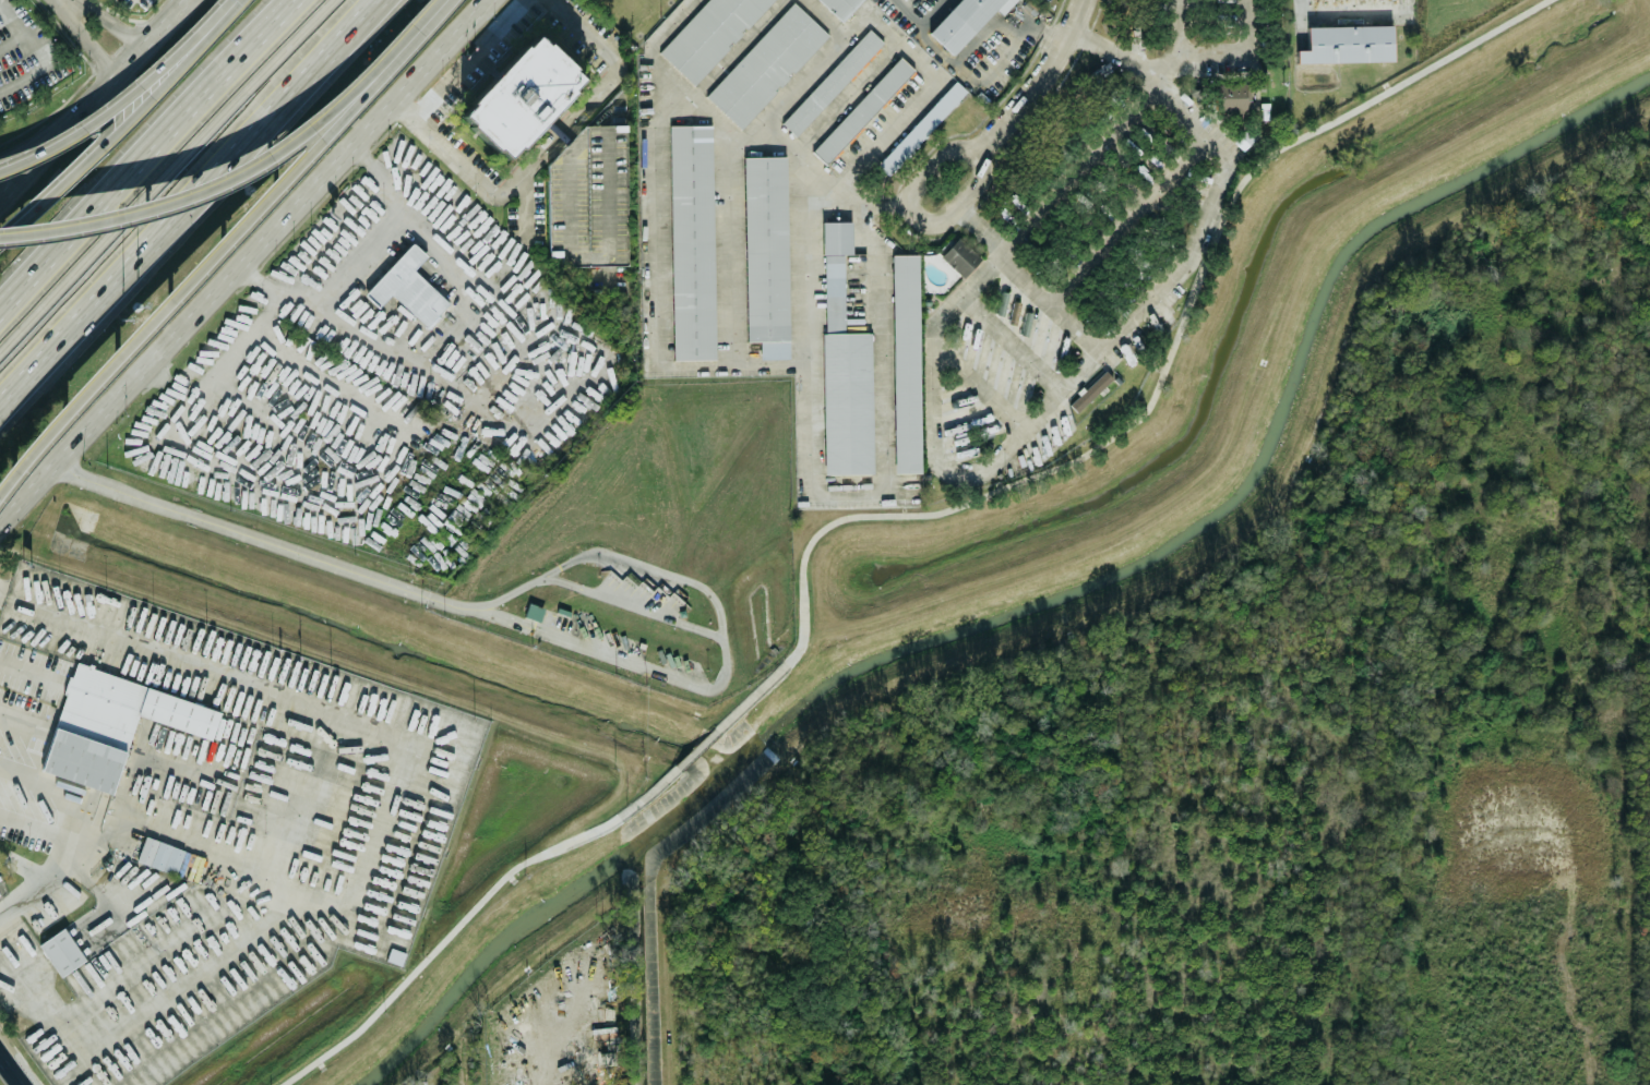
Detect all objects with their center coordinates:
building: (840, 7)
road: (909, 11)
road: (930, 11)
road: (12, 17)
road: (822, 19)
building: (964, 20)
road: (106, 23)
building: (708, 34)
road: (982, 34)
road: (92, 39)
building: (1346, 43)
road: (739, 47)
road: (45, 57)
road: (471, 57)
road: (1218, 58)
building: (765, 63)
road: (994, 69)
road: (422, 74)
road: (1168, 77)
building: (832, 81)
road: (926, 88)
road: (599, 89)
building: (519, 95)
road: (853, 96)
building: (1233, 96)
road: (123, 98)
road: (95, 99)
building: (862, 109)
road: (51, 117)
road: (122, 125)
road: (315, 126)
building: (920, 126)
road: (752, 138)
road: (989, 143)
road: (142, 152)
road: (456, 153)
road: (811, 157)
road: (164, 172)
building: (593, 173)
road: (527, 205)
road: (192, 206)
road: (976, 220)
road: (80, 225)
road: (1137, 227)
building: (691, 241)
road: (224, 249)
building: (765, 253)
building: (959, 255)
road: (368, 260)
building: (834, 270)
building: (407, 286)
road: (659, 329)
road: (178, 336)
road: (1091, 337)
road: (1011, 343)
road: (396, 353)
building: (905, 361)
road: (775, 364)
road: (977, 382)
building: (846, 401)
road: (1146, 405)
road: (935, 447)
road: (882, 499)
road: (258, 538)
road: (519, 587)
river: (1040, 603)
road: (630, 607)
building: (533, 611)
road: (22, 722)
building: (111, 723)
road: (246, 738)
road: (697, 748)
building: (159, 854)
road: (53, 865)
road: (469, 912)
building: (61, 951)
building: (395, 955)
building: (589, 1036)
road: (11, 1069)

